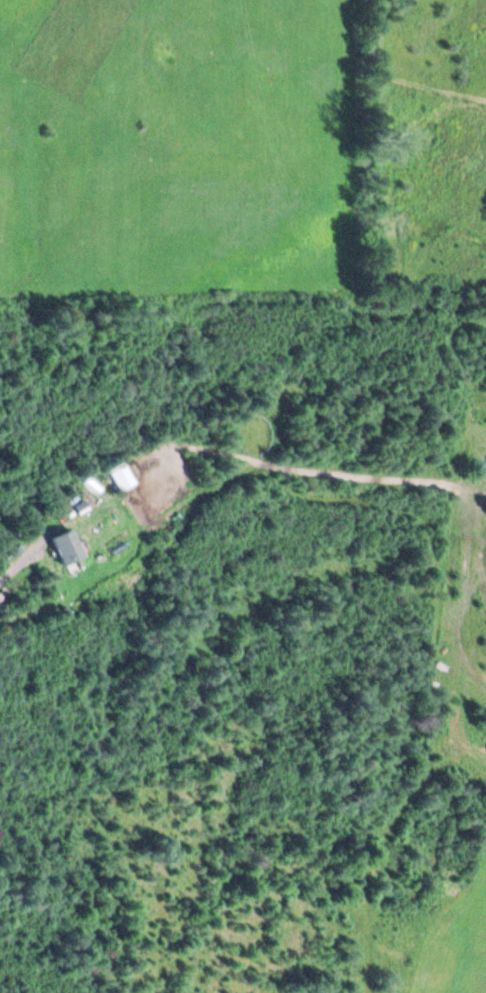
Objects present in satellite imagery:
building: (118, 473)
building: (62, 544)
road: (16, 561)

